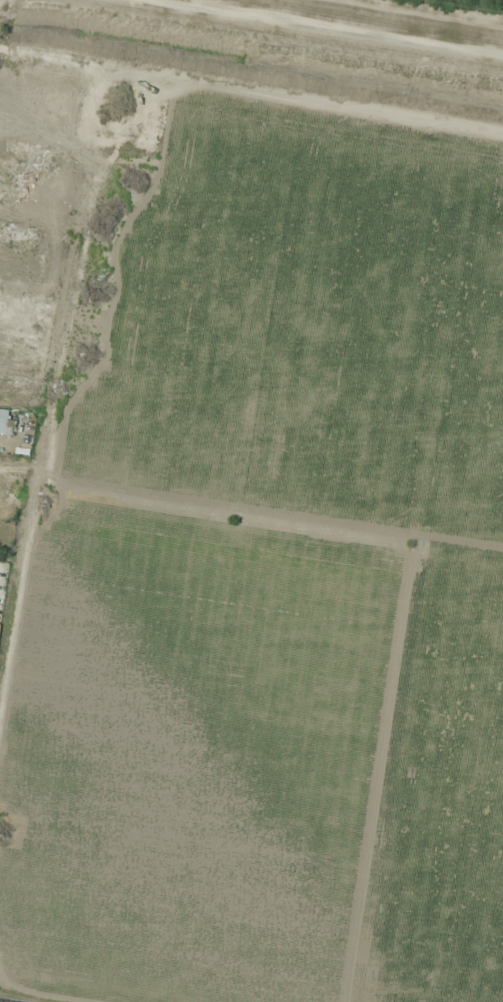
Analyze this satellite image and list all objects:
building: (42, 150)
building: (42, 183)
building: (1, 191)
building: (21, 301)
building: (6, 421)

